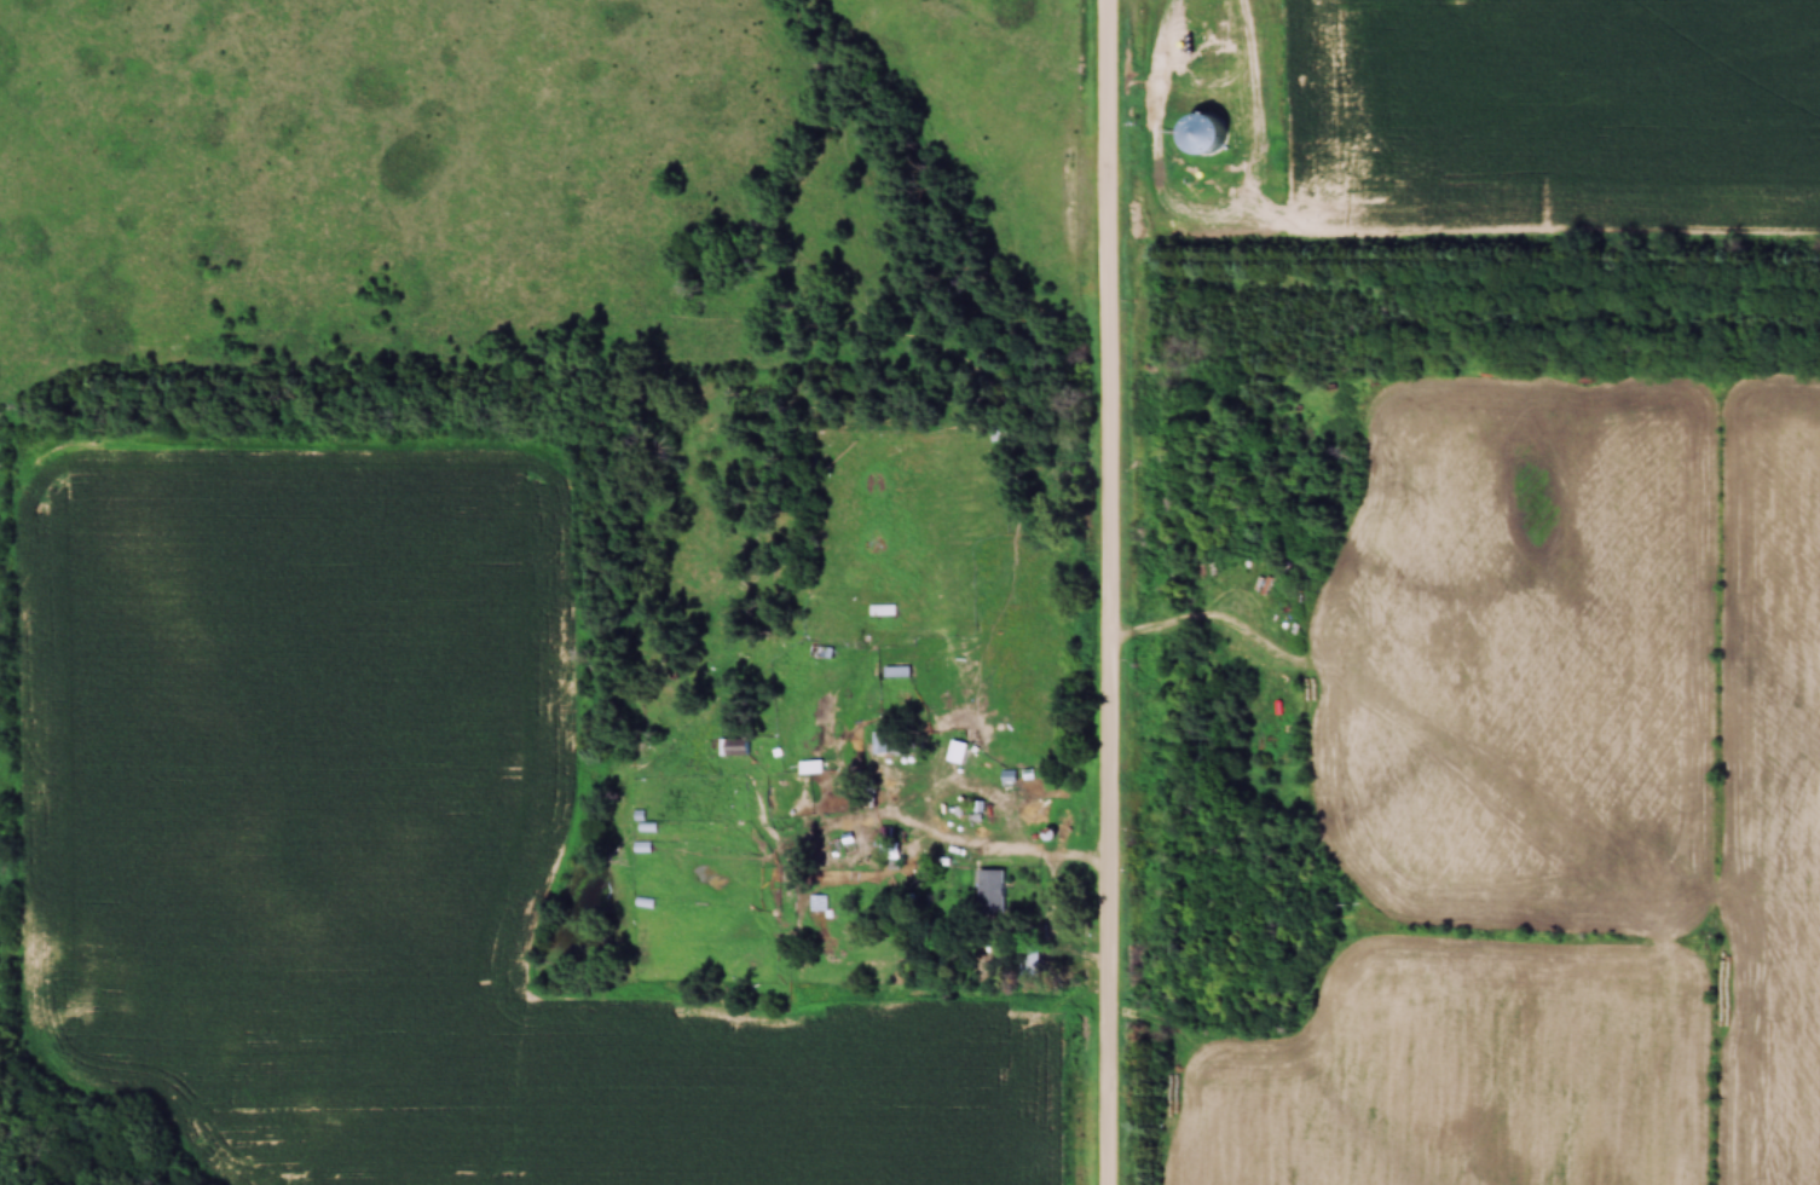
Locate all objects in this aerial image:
building: (1259, 229)
road: (1111, 591)
building: (816, 666)
building: (736, 745)
building: (959, 752)
building: (803, 811)
road: (987, 849)
building: (992, 885)

